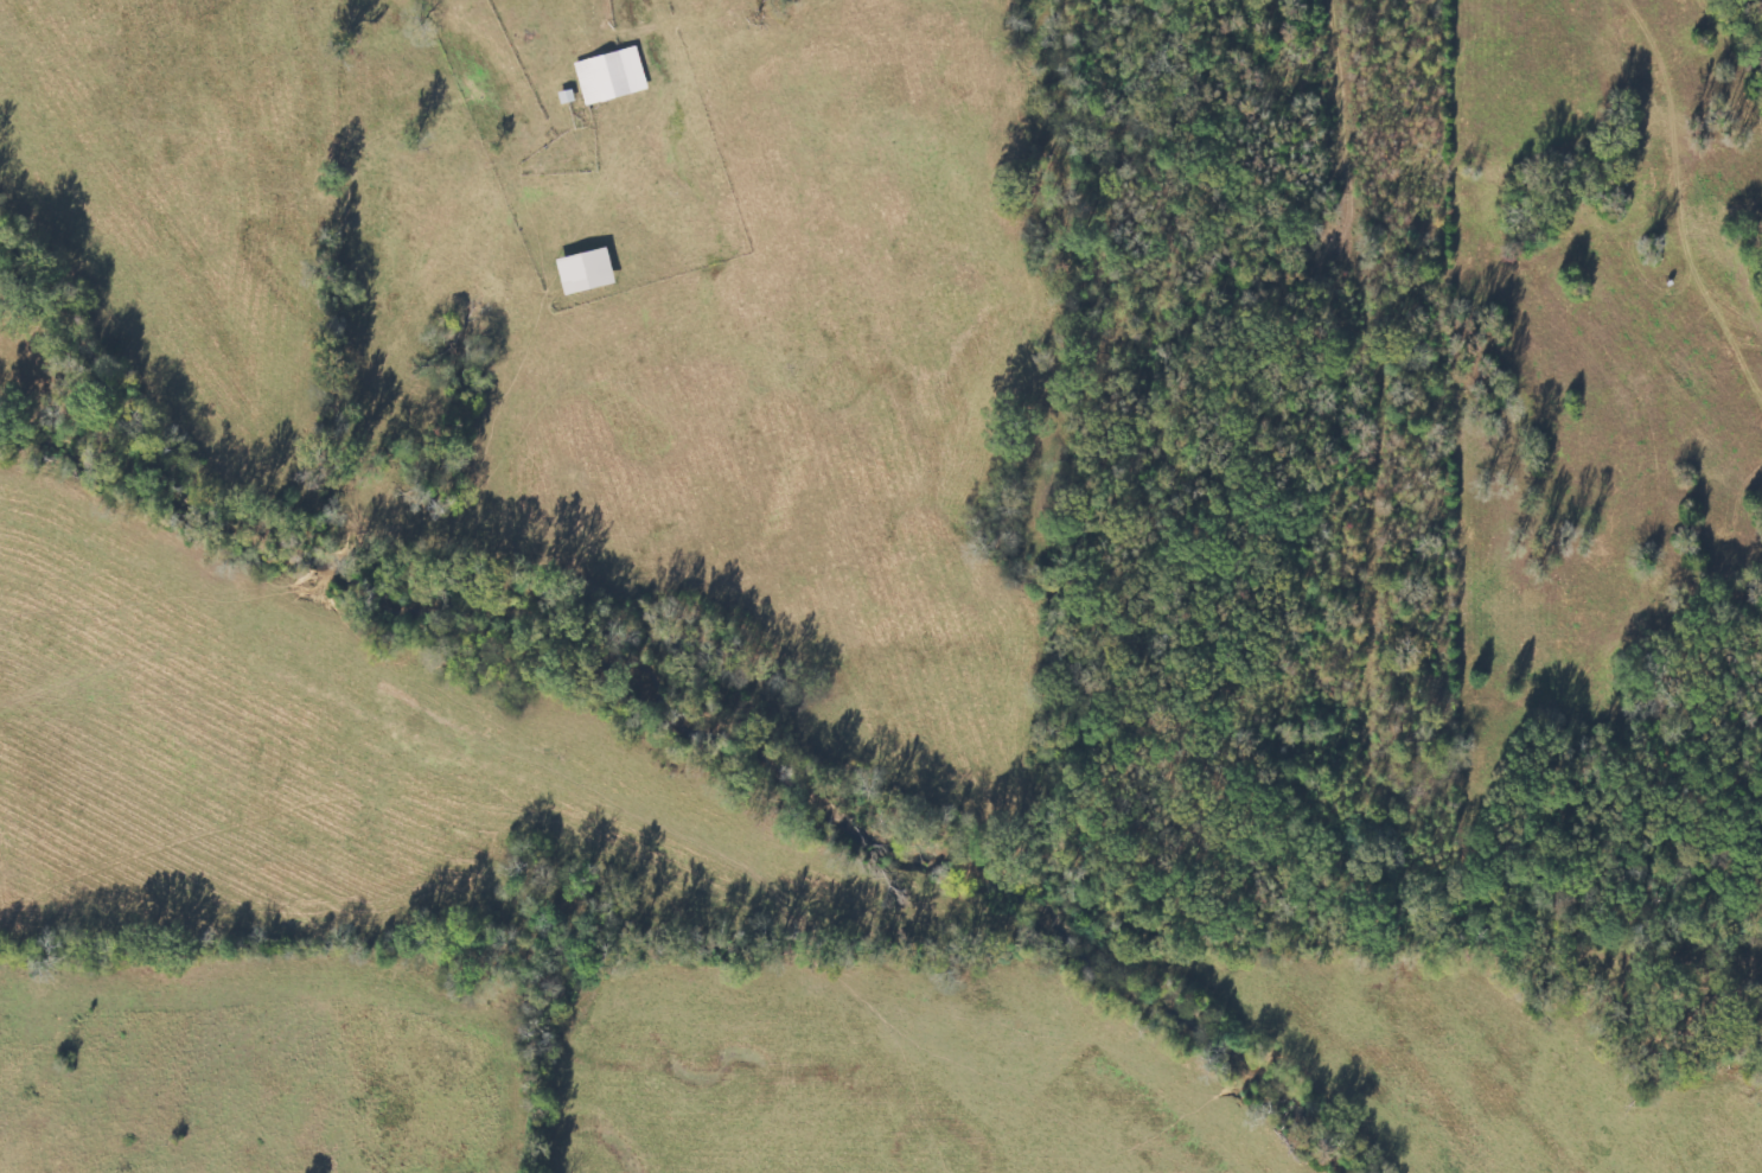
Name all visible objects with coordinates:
building: (614, 77)
building: (570, 97)
building: (593, 272)

